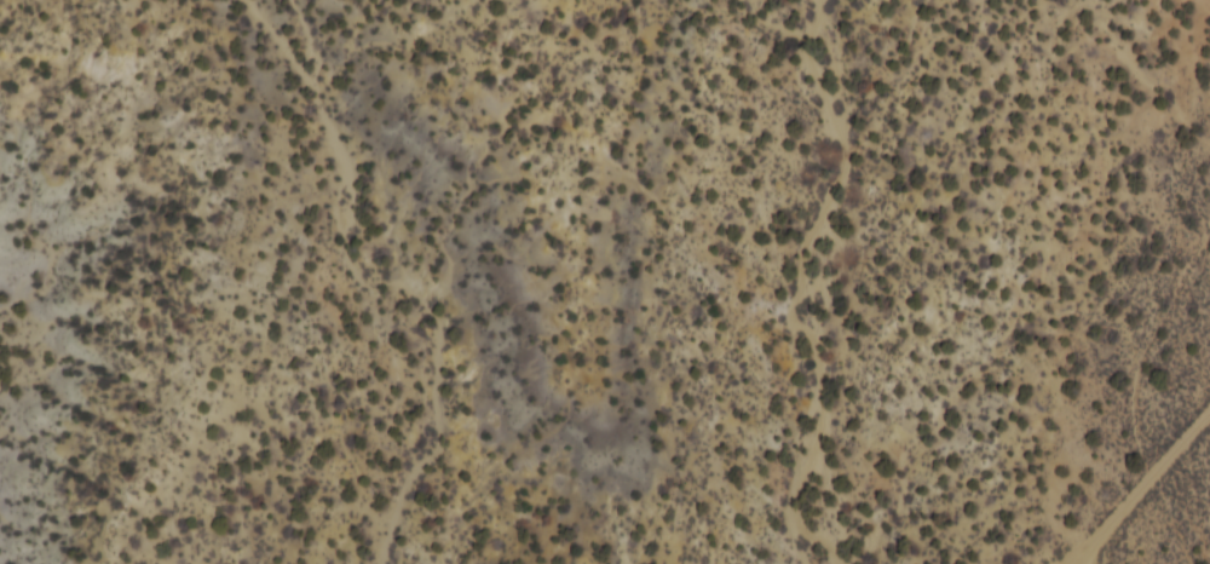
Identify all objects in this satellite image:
road: (1136, 477)
road: (1054, 551)

